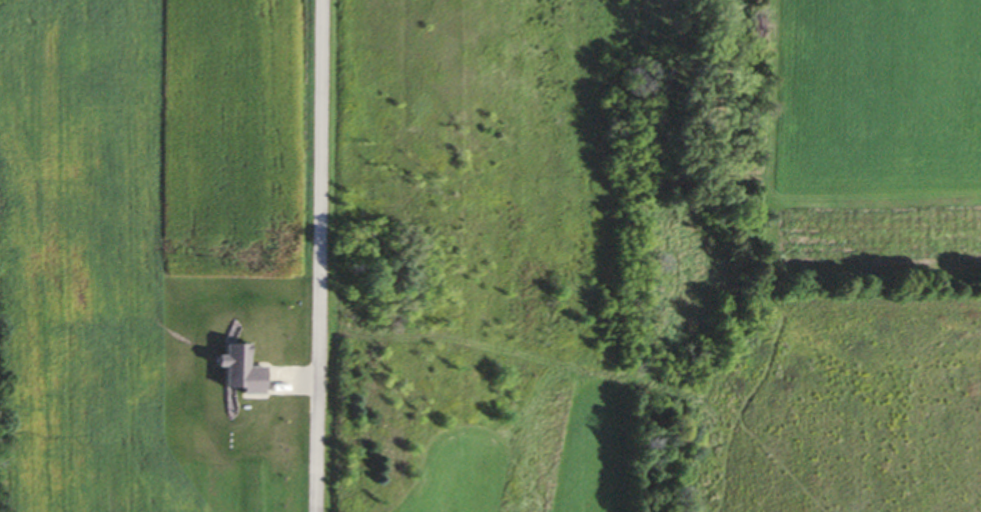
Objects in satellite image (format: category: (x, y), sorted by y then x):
road: (322, 256)

